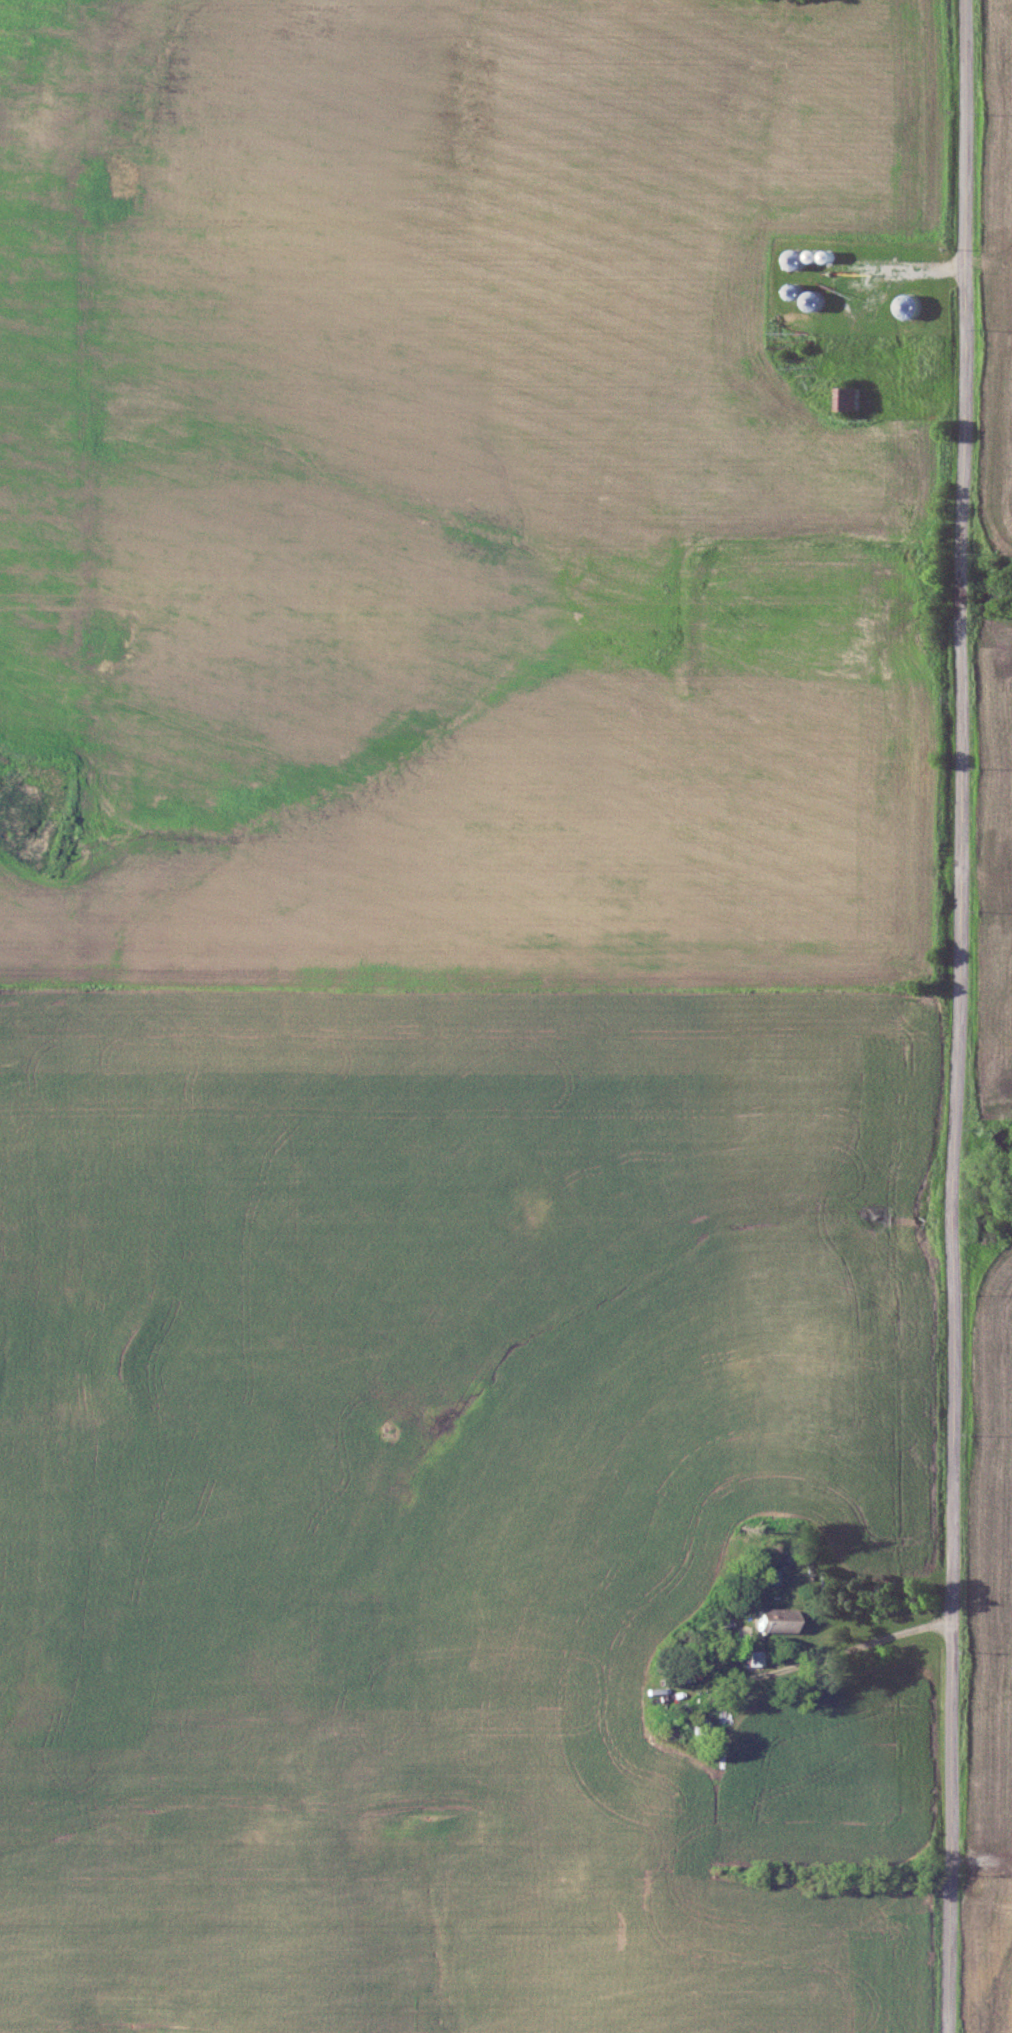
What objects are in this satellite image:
building: (795, 258)
building: (791, 289)
building: (813, 299)
building: (847, 397)
road: (957, 1016)
building: (777, 1618)
road: (858, 1644)
building: (756, 1657)

